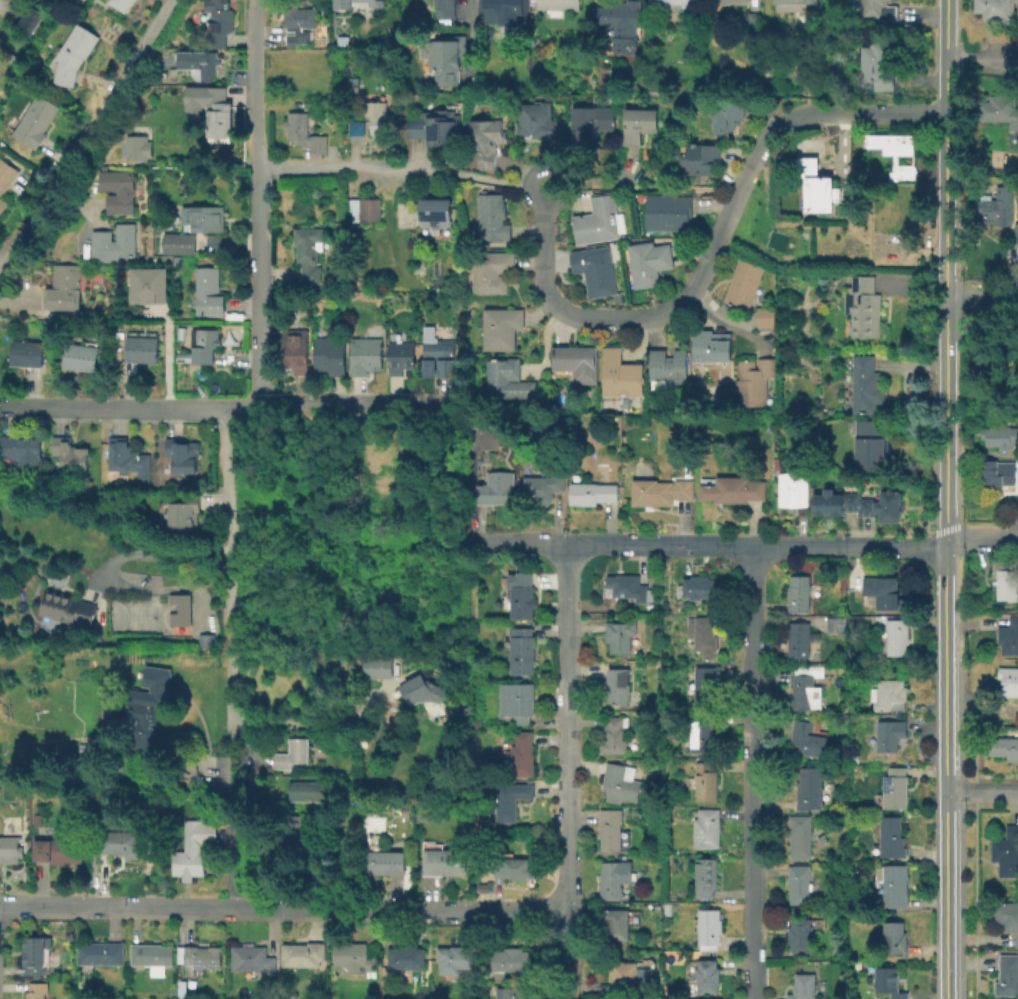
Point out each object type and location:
building: (730, 0)
building: (76, 2)
building: (120, 4)
building: (671, 4)
building: (793, 5)
building: (557, 6)
building: (341, 9)
building: (994, 9)
building: (444, 10)
building: (875, 10)
building: (503, 12)
building: (30, 19)
building: (218, 21)
building: (753, 21)
building: (299, 22)
building: (619, 25)
road: (943, 30)
road: (469, 39)
building: (341, 41)
building: (73, 54)
building: (5, 55)
building: (445, 59)
road: (151, 60)
building: (198, 61)
road: (981, 61)
building: (874, 64)
building: (652, 90)
building: (997, 109)
building: (726, 114)
building: (220, 116)
building: (36, 120)
building: (382, 120)
building: (590, 120)
building: (540, 121)
building: (638, 124)
road: (93, 125)
building: (357, 129)
building: (435, 130)
building: (304, 131)
building: (487, 139)
road: (842, 140)
building: (137, 147)
building: (894, 151)
building: (700, 158)
road: (345, 166)
road: (552, 169)
road: (931, 169)
road: (609, 177)
road: (482, 178)
building: (6, 179)
building: (817, 185)
road: (653, 186)
building: (120, 189)
road: (256, 203)
building: (363, 208)
building: (999, 209)
building: (432, 212)
building: (668, 212)
road: (848, 217)
building: (202, 218)
building: (492, 218)
building: (599, 221)
building: (116, 242)
building: (180, 243)
road: (714, 246)
building: (310, 252)
road: (8, 261)
building: (648, 262)
building: (595, 269)
building: (492, 271)
building: (744, 283)
building: (66, 286)
building: (151, 286)
building: (207, 291)
road: (981, 299)
building: (861, 306)
building: (765, 317)
road: (727, 321)
building: (501, 327)
building: (201, 345)
building: (292, 345)
road: (543, 345)
building: (712, 346)
building: (141, 348)
building: (1012, 349)
building: (27, 353)
building: (330, 354)
building: (365, 355)
building: (81, 356)
building: (400, 356)
building: (439, 357)
building: (577, 362)
road: (166, 365)
building: (670, 367)
building: (621, 373)
building: (508, 379)
building: (755, 383)
building: (866, 385)
road: (333, 402)
road: (113, 408)
road: (943, 426)
building: (997, 436)
building: (870, 443)
road: (318, 444)
building: (22, 450)
building: (407, 450)
building: (70, 453)
building: (183, 454)
building: (126, 458)
building: (1017, 471)
building: (373, 473)
building: (988, 474)
building: (541, 487)
building: (496, 488)
building: (733, 489)
building: (793, 489)
building: (660, 491)
building: (592, 493)
road: (925, 501)
building: (826, 502)
building: (875, 505)
building: (185, 519)
road: (929, 521)
road: (945, 528)
road: (927, 531)
road: (980, 539)
road: (641, 543)
road: (878, 546)
road: (148, 552)
road: (230, 571)
building: (1004, 579)
building: (629, 587)
building: (696, 587)
road: (162, 589)
building: (799, 592)
building: (882, 592)
building: (519, 595)
building: (68, 608)
building: (178, 609)
park: (147, 615)
building: (619, 634)
building: (703, 634)
building: (896, 635)
building: (1008, 635)
building: (799, 639)
building: (204, 640)
building: (522, 649)
building: (378, 665)
building: (1007, 679)
building: (705, 683)
building: (618, 685)
building: (423, 687)
building: (806, 688)
building: (889, 694)
building: (517, 701)
building: (150, 703)
road: (315, 718)
building: (702, 732)
building: (614, 734)
building: (890, 734)
building: (806, 740)
road: (245, 743)
road: (229, 744)
building: (1003, 746)
building: (294, 751)
building: (521, 755)
building: (188, 766)
road: (974, 767)
road: (567, 771)
road: (754, 771)
road: (996, 776)
building: (706, 781)
building: (620, 782)
building: (895, 787)
building: (809, 788)
building: (305, 790)
road: (982, 790)
road: (974, 792)
building: (511, 799)
road: (974, 805)
road: (990, 807)
building: (36, 818)
building: (610, 828)
building: (706, 828)
road: (229, 831)
building: (294, 834)
building: (800, 836)
building: (890, 838)
building: (119, 842)
building: (60, 845)
building: (191, 848)
building: (9, 849)
building: (1005, 852)
building: (444, 861)
building: (385, 862)
building: (514, 868)
building: (611, 877)
building: (705, 877)
building: (800, 883)
building: (893, 886)
road: (947, 895)
road: (974, 903)
road: (284, 906)
building: (667, 908)
building: (1005, 916)
building: (616, 922)
building: (708, 928)
building: (800, 934)
building: (894, 937)
building: (100, 952)
building: (33, 953)
building: (303, 953)
building: (152, 956)
building: (197, 956)
building: (356, 956)
building: (407, 956)
building: (454, 958)
building: (252, 960)
building: (511, 961)
building: (857, 964)
building: (1006, 974)
building: (628, 976)
building: (708, 976)
building: (889, 982)
building: (805, 986)
building: (180, 989)
building: (36, 990)
building: (171, 991)
building: (514, 992)

